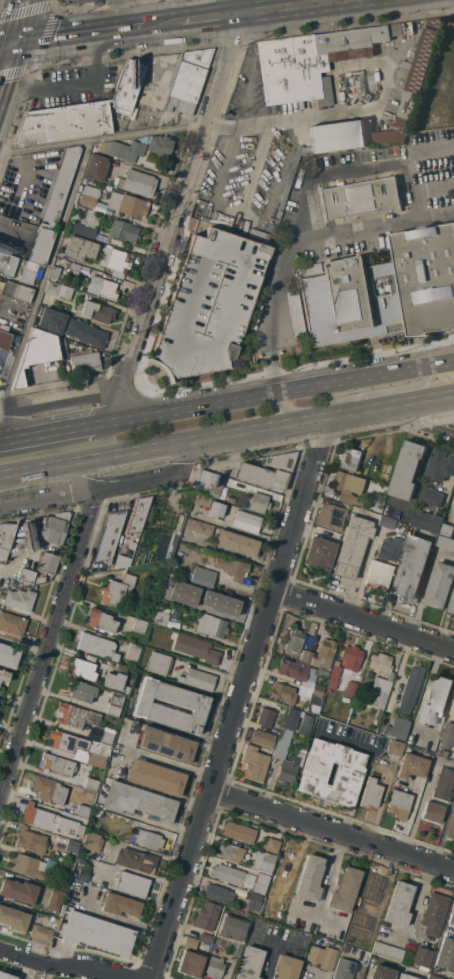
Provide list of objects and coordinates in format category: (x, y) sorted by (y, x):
road: (79, 1)
road: (293, 7)
road: (117, 16)
road: (210, 19)
road: (21, 23)
road: (164, 25)
road: (80, 37)
road: (7, 47)
traffic signals: (15, 47)
building: (313, 61)
road: (7, 69)
building: (187, 81)
building: (412, 83)
road: (70, 85)
building: (126, 88)
building: (63, 123)
road: (192, 129)
building: (337, 136)
building: (159, 145)
building: (122, 150)
road: (255, 165)
building: (96, 167)
road: (349, 170)
building: (289, 178)
building: (137, 183)
building: (61, 184)
building: (107, 189)
building: (88, 198)
building: (360, 198)
building: (201, 201)
building: (127, 205)
road: (177, 212)
building: (86, 225)
road: (373, 229)
building: (123, 231)
building: (260, 236)
building: (41, 244)
building: (80, 248)
helipad: (245, 252)
building: (114, 259)
building: (7, 264)
building: (73, 269)
building: (28, 273)
building: (54, 275)
road: (46, 276)
building: (105, 289)
building: (383, 290)
building: (58, 291)
building: (16, 292)
building: (208, 303)
building: (96, 312)
building: (295, 313)
road: (274, 319)
building: (52, 321)
building: (86, 333)
building: (4, 340)
building: (40, 352)
building: (84, 361)
road: (274, 395)
road: (385, 395)
road: (68, 399)
road: (286, 411)
road: (444, 411)
road: (16, 424)
road: (47, 434)
road: (226, 434)
building: (351, 459)
building: (282, 461)
building: (440, 465)
building: (408, 469)
building: (261, 476)
building: (229, 483)
building: (209, 484)
building: (349, 486)
road: (109, 489)
building: (431, 496)
building: (200, 500)
building: (256, 502)
building: (215, 509)
building: (138, 515)
building: (330, 517)
building: (246, 521)
building: (427, 521)
building: (179, 522)
building: (387, 522)
building: (54, 528)
building: (447, 529)
road: (240, 531)
building: (109, 535)
building: (225, 538)
building: (6, 539)
building: (445, 542)
road: (29, 544)
building: (171, 545)
building: (128, 546)
building: (351, 547)
building: (389, 549)
building: (318, 553)
building: (48, 563)
building: (413, 566)
building: (232, 568)
building: (379, 574)
building: (202, 576)
building: (30, 577)
building: (440, 585)
building: (116, 590)
building: (168, 593)
building: (19, 599)
building: (221, 603)
building: (452, 606)
building: (175, 615)
building: (161, 617)
road: (364, 620)
building: (100, 621)
building: (12, 624)
building: (139, 626)
building: (211, 626)
road: (54, 632)
building: (294, 641)
building: (96, 646)
building: (196, 648)
building: (133, 652)
building: (322, 654)
building: (8, 656)
building: (303, 656)
building: (351, 658)
building: (158, 663)
building: (380, 663)
building: (82, 669)
building: (299, 671)
building: (4, 676)
building: (332, 677)
building: (198, 679)
building: (113, 680)
building: (411, 685)
building: (366, 686)
building: (318, 688)
building: (350, 690)
building: (81, 691)
building: (380, 692)
building: (282, 693)
building: (310, 695)
road: (241, 699)
building: (436, 700)
building: (115, 704)
building: (453, 704)
building: (283, 707)
building: (151, 708)
building: (74, 716)
building: (265, 717)
building: (279, 720)
building: (295, 724)
building: (277, 726)
building: (396, 728)
building: (448, 735)
building: (106, 737)
building: (262, 738)
building: (65, 742)
building: (166, 744)
building: (395, 748)
building: (444, 752)
building: (96, 760)
road: (173, 763)
building: (253, 763)
building: (57, 765)
building: (411, 766)
road: (365, 767)
building: (289, 768)
building: (347, 776)
building: (155, 777)
building: (91, 784)
building: (443, 784)
building: (48, 790)
building: (370, 793)
building: (138, 802)
building: (399, 804)
building: (83, 811)
building: (433, 813)
building: (79, 819)
building: (114, 819)
building: (50, 821)
building: (451, 827)
road: (333, 831)
building: (238, 832)
road: (443, 832)
building: (141, 836)
building: (30, 841)
building: (92, 842)
building: (271, 845)
building: (72, 846)
building: (230, 852)
building: (136, 860)
building: (80, 861)
building: (263, 862)
building: (27, 866)
building: (62, 871)
building: (227, 874)
road: (329, 877)
building: (310, 878)
building: (260, 883)
building: (132, 884)
building: (345, 890)
building: (19, 891)
building: (218, 894)
building: (55, 900)
building: (254, 901)
road: (418, 901)
building: (369, 902)
building: (399, 904)
building: (119, 905)
building: (452, 913)
building: (434, 914)
building: (206, 916)
building: (59, 917)
building: (13, 919)
road: (317, 919)
building: (242, 930)
building: (41, 932)
building: (98, 933)
building: (205, 938)
building: (346, 940)
road: (284, 943)
building: (193, 944)
building: (236, 946)
building: (344, 948)
road: (272, 951)
building: (359, 951)
building: (387, 951)
building: (444, 955)
building: (322, 957)
building: (422, 958)
building: (249, 963)
building: (190, 964)
building: (286, 967)
road: (59, 968)
building: (214, 968)
building: (347, 970)
building: (450, 971)
building: (381, 973)
building: (404, 977)
building: (433, 977)
building: (1, 978)

